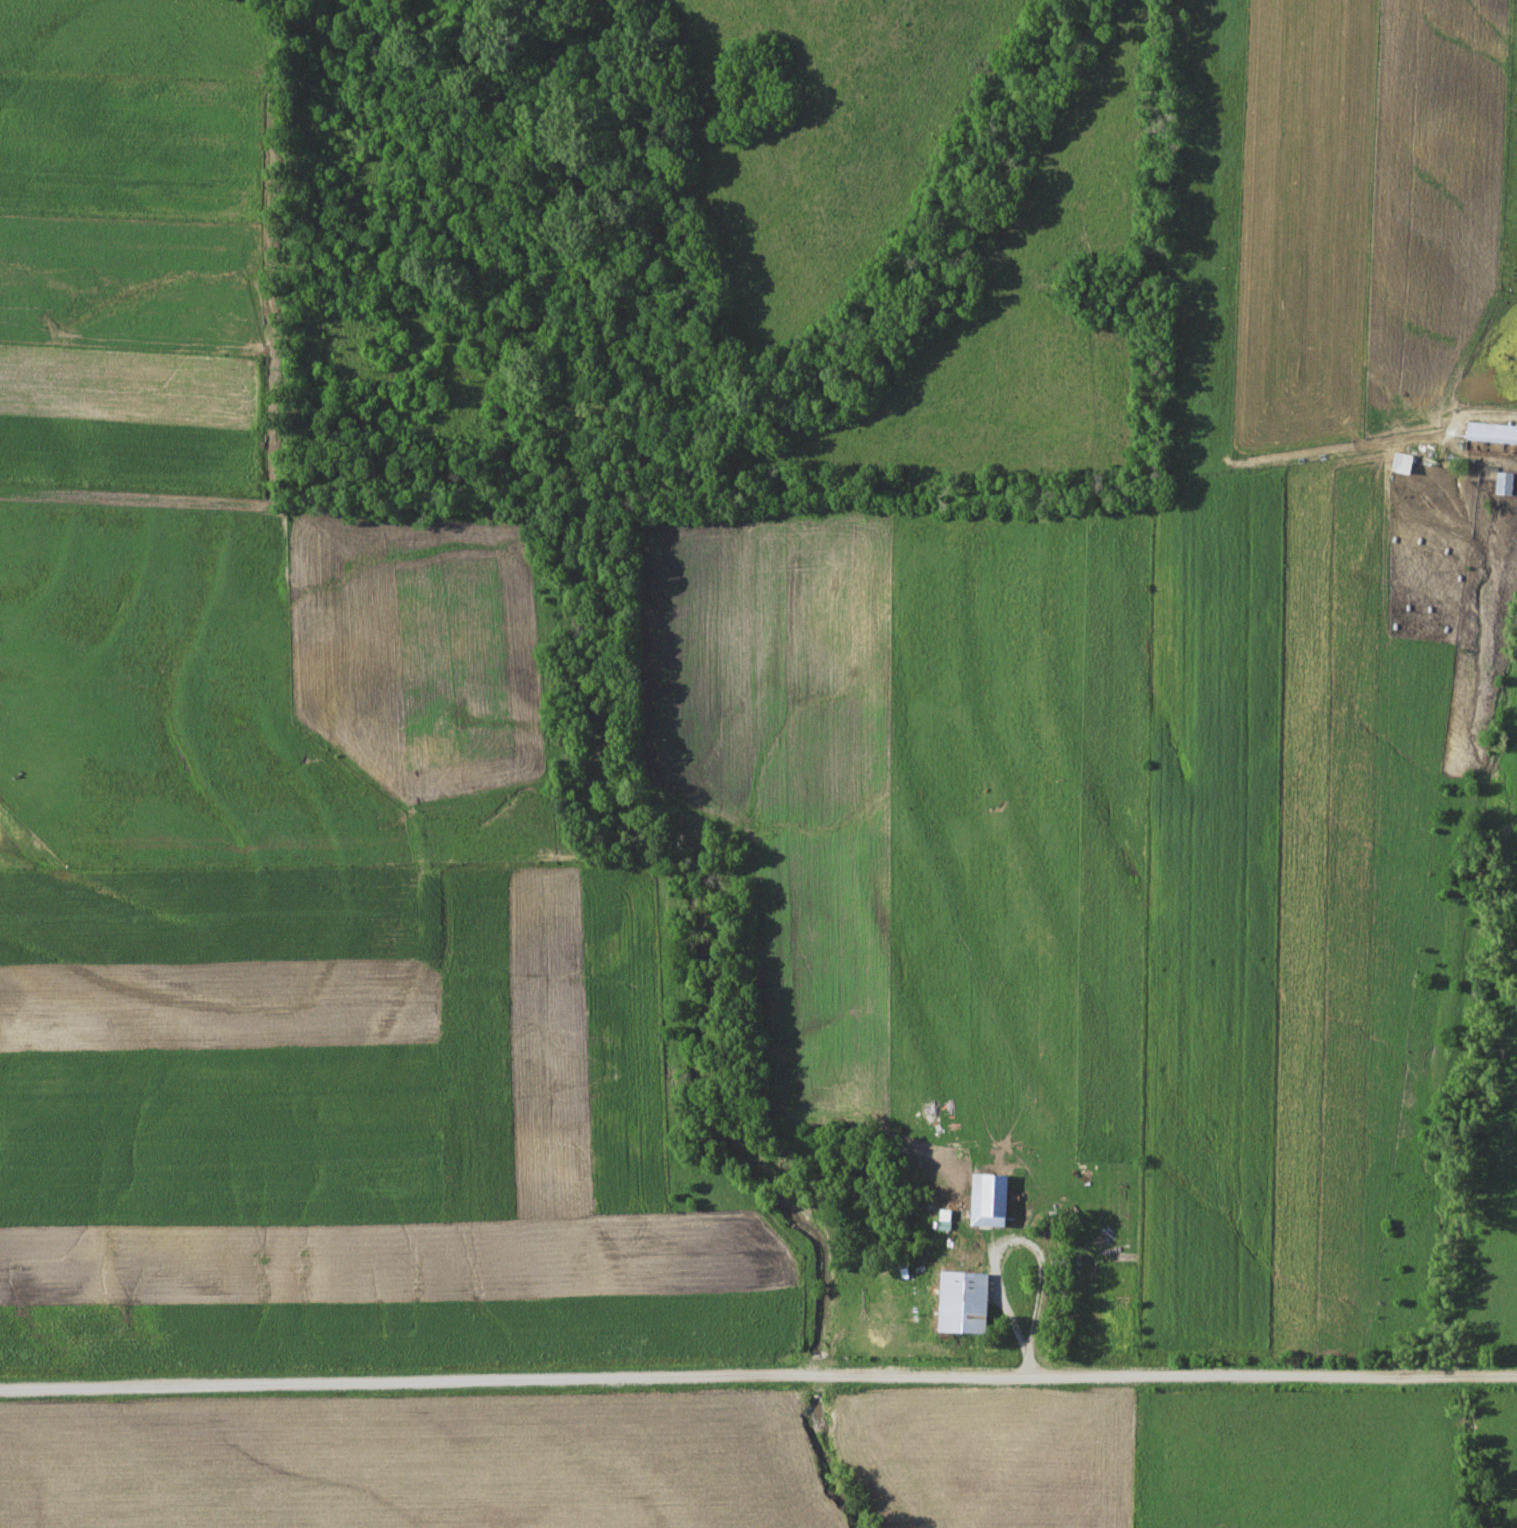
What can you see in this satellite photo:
building: (1491, 431)
building: (1511, 449)
road: (758, 1384)

